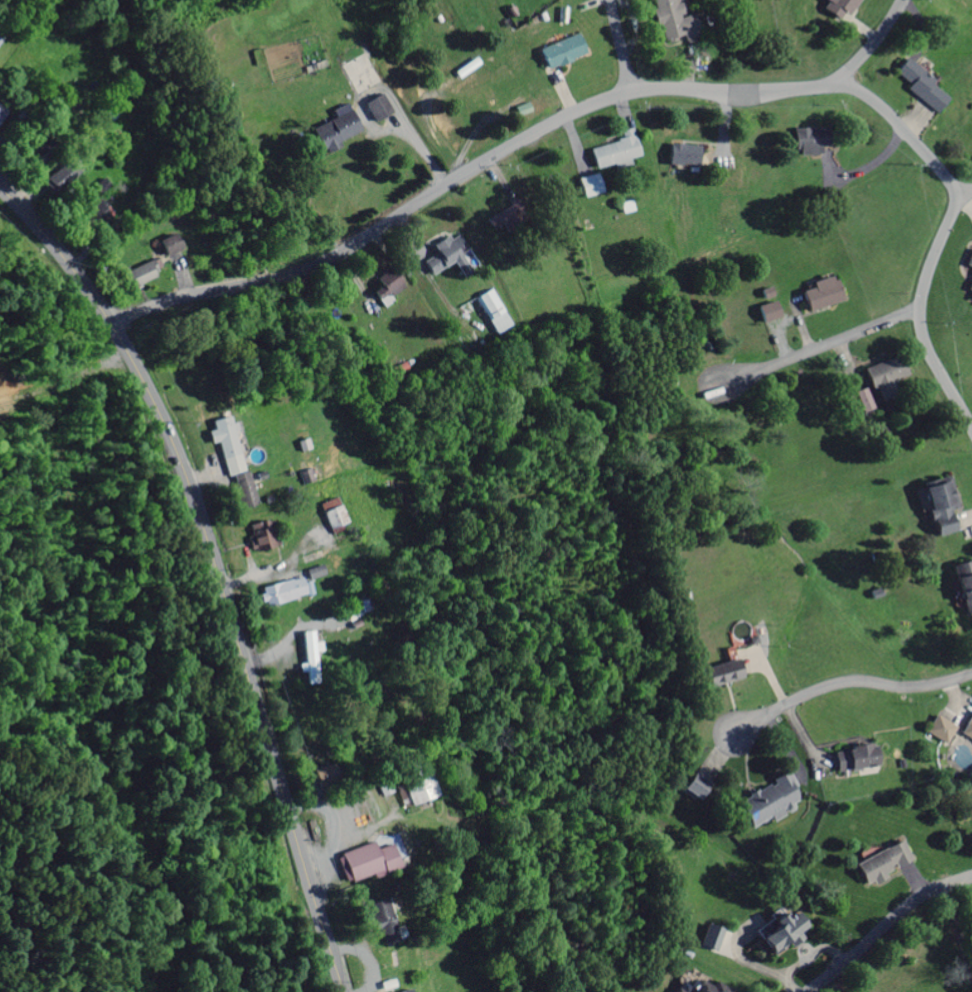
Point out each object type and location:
building: (672, 22)
road: (874, 40)
building: (0, 42)
road: (620, 46)
building: (561, 54)
building: (921, 88)
building: (497, 96)
building: (377, 109)
building: (2, 115)
building: (334, 133)
building: (808, 143)
building: (613, 153)
building: (679, 157)
road: (468, 172)
building: (72, 177)
road: (963, 192)
road: (941, 236)
building: (168, 247)
building: (441, 256)
building: (968, 262)
building: (140, 277)
building: (385, 288)
road: (86, 289)
building: (968, 291)
building: (819, 297)
building: (494, 313)
building: (768, 314)
road: (827, 345)
building: (883, 379)
building: (857, 404)
building: (223, 439)
building: (244, 492)
building: (938, 508)
building: (332, 519)
building: (263, 538)
building: (315, 575)
building: (963, 587)
building: (281, 594)
building: (310, 654)
building: (720, 675)
road: (848, 683)
road: (253, 694)
building: (967, 730)
building: (940, 731)
building: (852, 761)
building: (701, 782)
building: (412, 784)
building: (767, 804)
building: (348, 815)
building: (364, 863)
building: (881, 865)
building: (379, 922)
road: (884, 925)
building: (777, 933)
building: (696, 985)
building: (406, 991)

